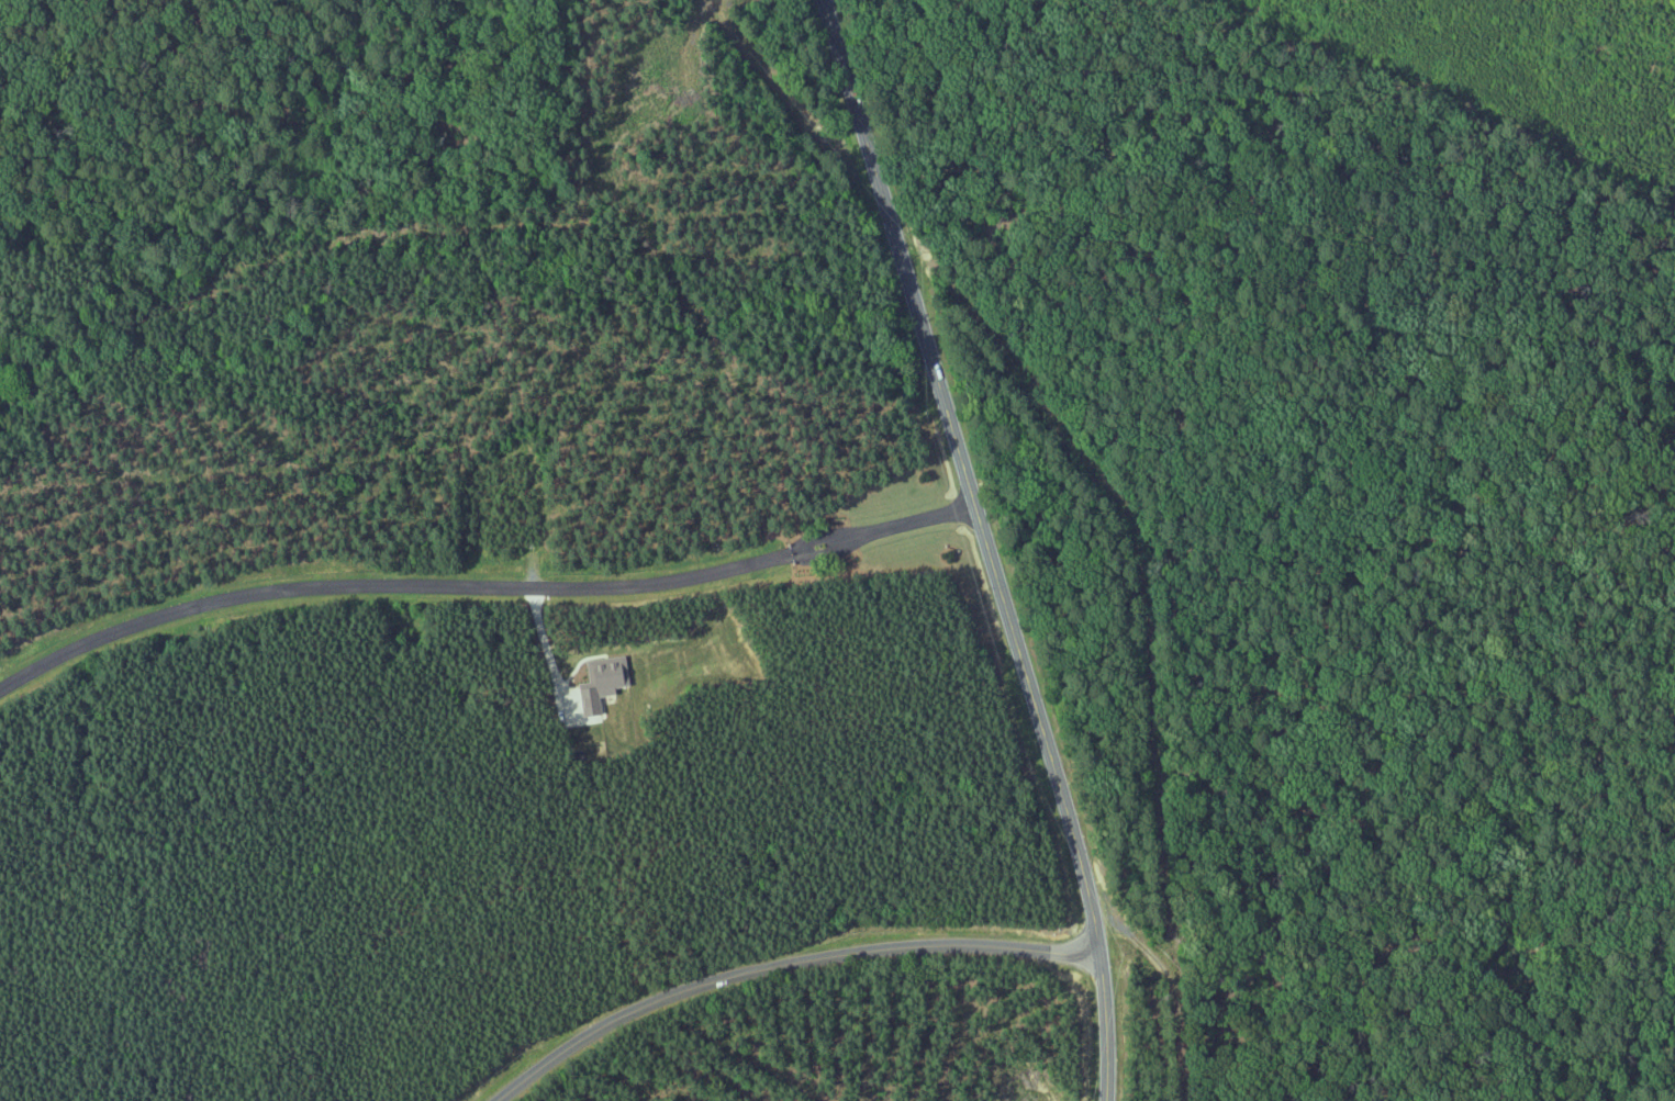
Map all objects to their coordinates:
road: (986, 547)
road: (481, 588)
building: (596, 682)
road: (783, 967)

